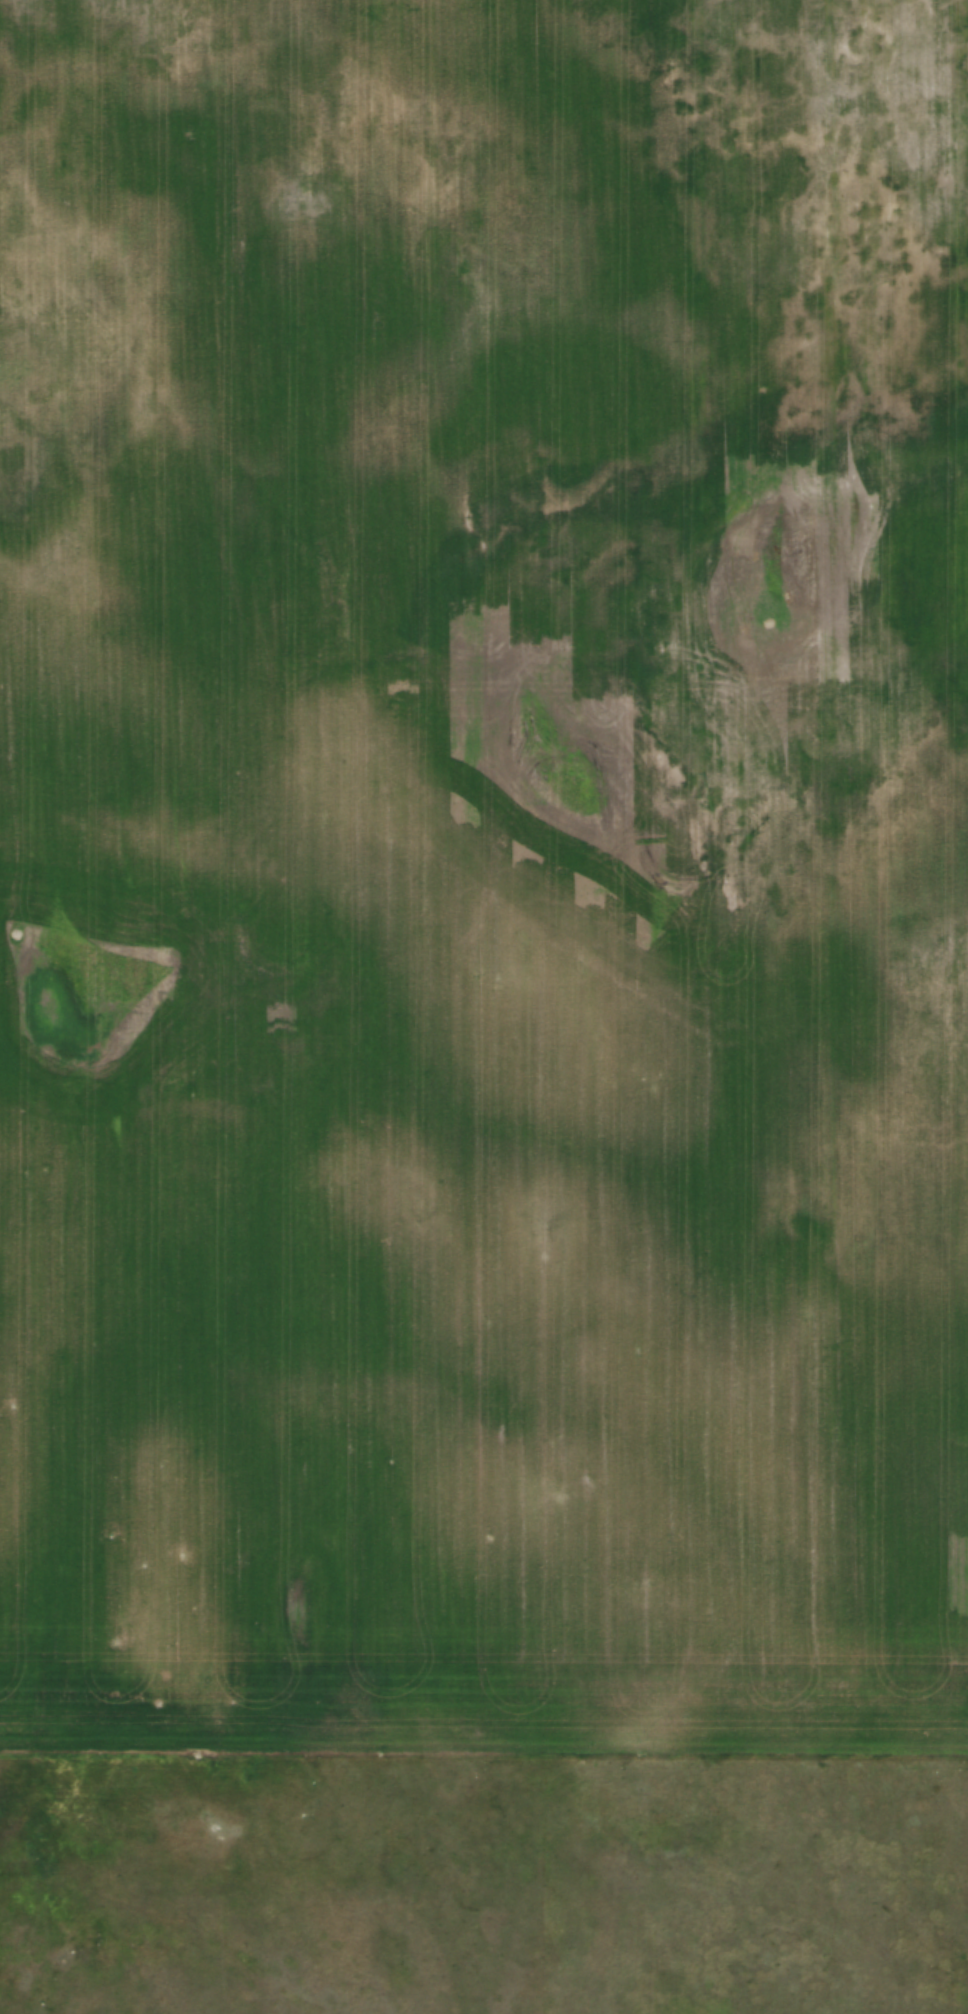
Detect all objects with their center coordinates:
road: (484, 1751)

